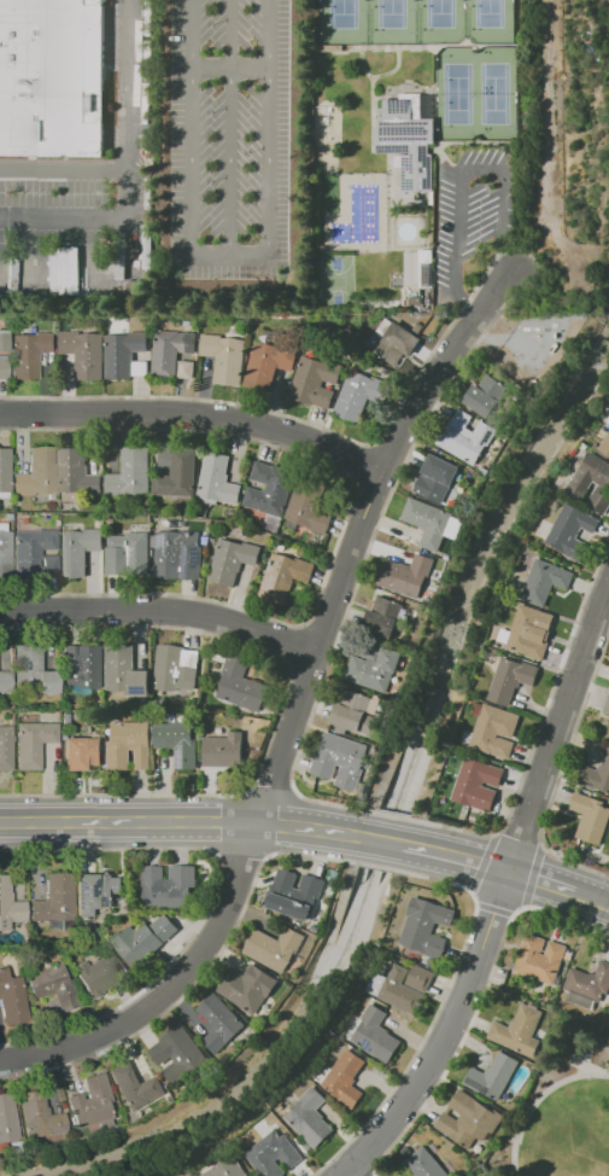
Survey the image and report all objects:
park: (415, 22)
road: (230, 68)
building: (53, 77)
park: (476, 93)
road: (229, 127)
building: (408, 136)
road: (268, 146)
road: (191, 147)
road: (69, 175)
road: (462, 176)
road: (137, 203)
parking lot: (470, 221)
road: (68, 222)
building: (146, 245)
building: (119, 255)
building: (421, 267)
park: (338, 281)
building: (416, 301)
building: (383, 325)
building: (234, 330)
building: (398, 336)
building: (4, 342)
building: (169, 351)
building: (29, 353)
building: (83, 353)
building: (122, 353)
building: (223, 357)
building: (270, 361)
building: (137, 367)
building: (4, 368)
building: (314, 382)
building: (357, 394)
building: (482, 395)
road: (194, 415)
building: (607, 419)
road: (309, 423)
building: (463, 439)
building: (604, 446)
road: (390, 449)
road: (364, 464)
building: (4, 471)
building: (77, 472)
building: (37, 473)
building: (130, 473)
building: (177, 476)
building: (439, 477)
building: (217, 479)
building: (580, 482)
building: (269, 488)
road: (369, 493)
building: (43, 499)
building: (311, 506)
building: (7, 517)
building: (99, 517)
building: (110, 518)
building: (429, 522)
building: (55, 523)
building: (127, 526)
road: (341, 526)
building: (570, 531)
building: (535, 540)
building: (76, 548)
building: (5, 552)
building: (34, 553)
building: (128, 554)
building: (177, 554)
building: (232, 560)
road: (361, 569)
building: (283, 575)
building: (405, 575)
building: (544, 581)
road: (159, 610)
building: (382, 617)
road: (317, 630)
building: (525, 634)
road: (293, 641)
building: (71, 656)
building: (373, 665)
road: (305, 666)
building: (176, 668)
building: (88, 669)
building: (31, 671)
building: (124, 671)
building: (510, 679)
building: (5, 681)
building: (240, 685)
building: (6, 705)
road: (280, 705)
building: (607, 705)
road: (293, 709)
building: (476, 709)
building: (357, 714)
building: (63, 716)
road: (540, 723)
building: (494, 730)
building: (178, 741)
building: (33, 744)
building: (128, 745)
building: (5, 747)
building: (223, 750)
building: (80, 752)
building: (341, 761)
road: (558, 773)
building: (597, 775)
building: (476, 784)
road: (273, 787)
road: (397, 816)
building: (591, 817)
road: (203, 820)
road: (517, 839)
road: (236, 855)
road: (456, 856)
road: (481, 862)
road: (374, 864)
road: (534, 877)
road: (540, 881)
building: (168, 886)
building: (95, 892)
building: (294, 893)
road: (498, 893)
road: (591, 898)
road: (210, 900)
building: (55, 902)
building: (8, 906)
road: (493, 909)
building: (164, 926)
building: (422, 930)
building: (137, 943)
building: (273, 948)
building: (539, 959)
building: (431, 962)
building: (98, 974)
road: (200, 976)
building: (421, 978)
building: (588, 980)
building: (247, 986)
building: (53, 988)
building: (396, 989)
building: (11, 1000)
road: (476, 1005)
road: (438, 1009)
building: (218, 1021)
building: (608, 1021)
building: (519, 1030)
building: (376, 1034)
building: (182, 1054)
building: (322, 1075)
building: (492, 1075)
building: (344, 1077)
building: (135, 1085)
road: (538, 1099)
building: (90, 1102)
park: (564, 1112)
building: (40, 1116)
building: (309, 1117)
building: (7, 1119)
building: (468, 1119)
building: (14, 1147)
building: (274, 1153)
road: (356, 1160)
building: (424, 1163)
building: (227, 1168)
road: (321, 1172)
road: (347, 1172)
building: (469, 1175)

